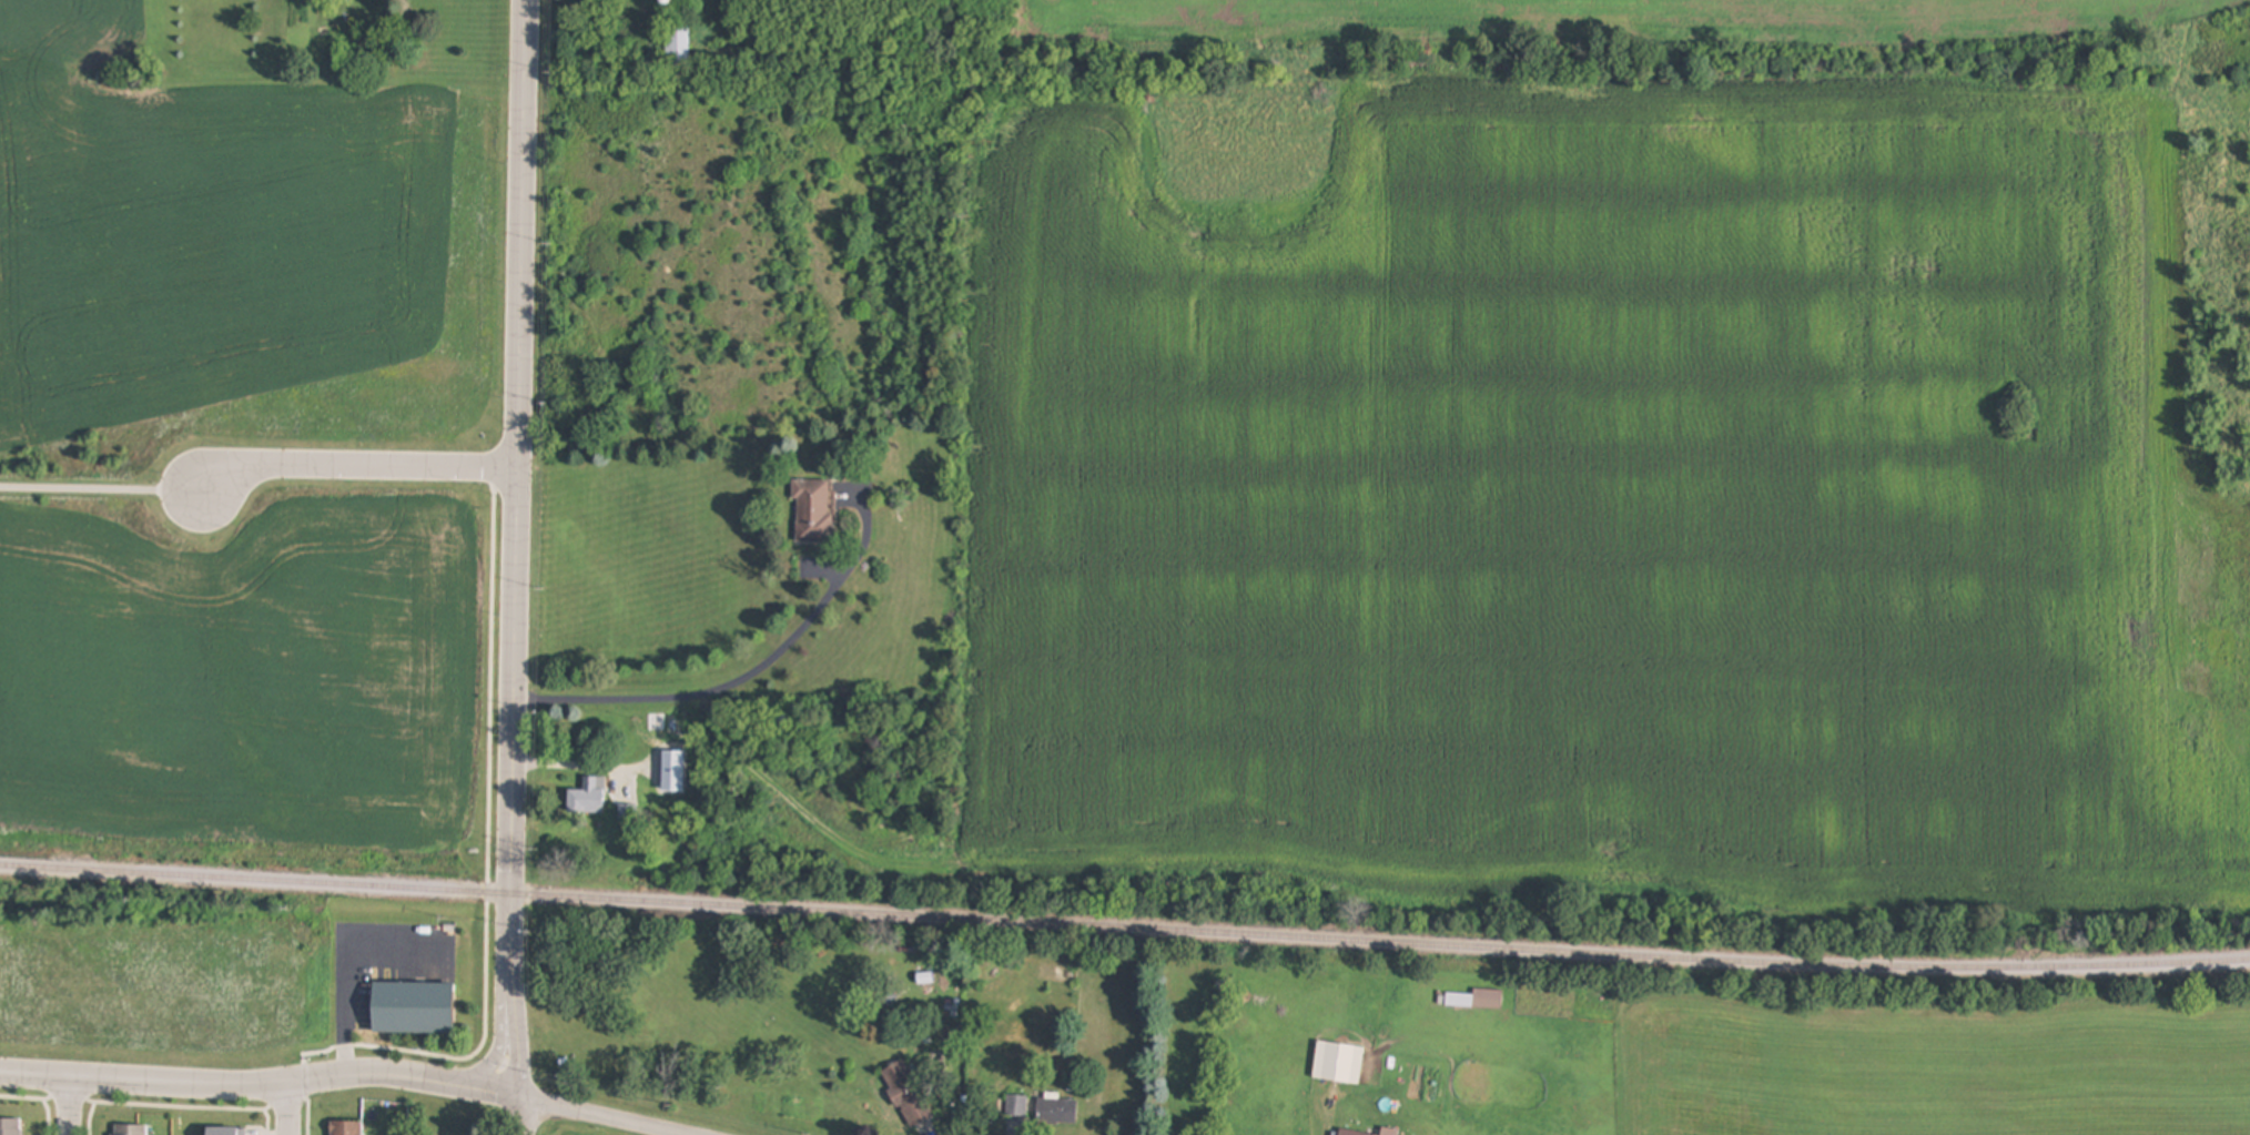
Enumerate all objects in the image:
building: (679, 43)
road: (357, 469)
road: (516, 476)
road: (102, 490)
park: (82, 492)
building: (813, 513)
road: (743, 676)
building: (589, 799)
building: (669, 800)
railway: (1124, 929)
building: (1476, 1001)
building: (415, 1010)
road: (517, 1025)
road: (504, 1027)
building: (1339, 1064)
road: (232, 1087)
road: (493, 1092)
building: (908, 1096)
road: (70, 1107)
building: (1016, 1108)
road: (286, 1109)
building: (1057, 1113)
road: (524, 1116)
road: (609, 1116)
building: (11, 1127)
building: (346, 1128)
building: (128, 1129)
building: (227, 1132)
building: (1347, 1133)
building: (1389, 1133)

